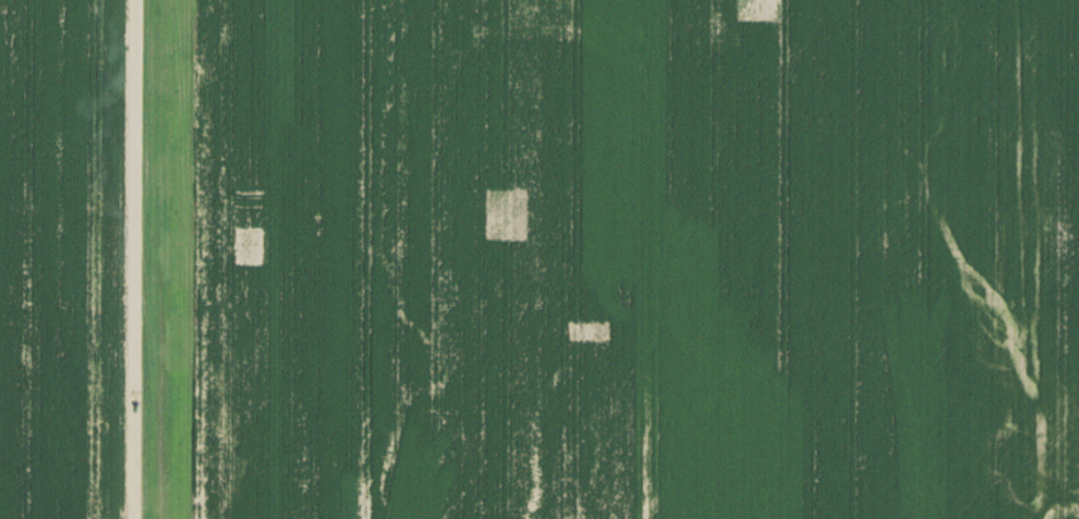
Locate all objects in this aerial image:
road: (141, 259)

